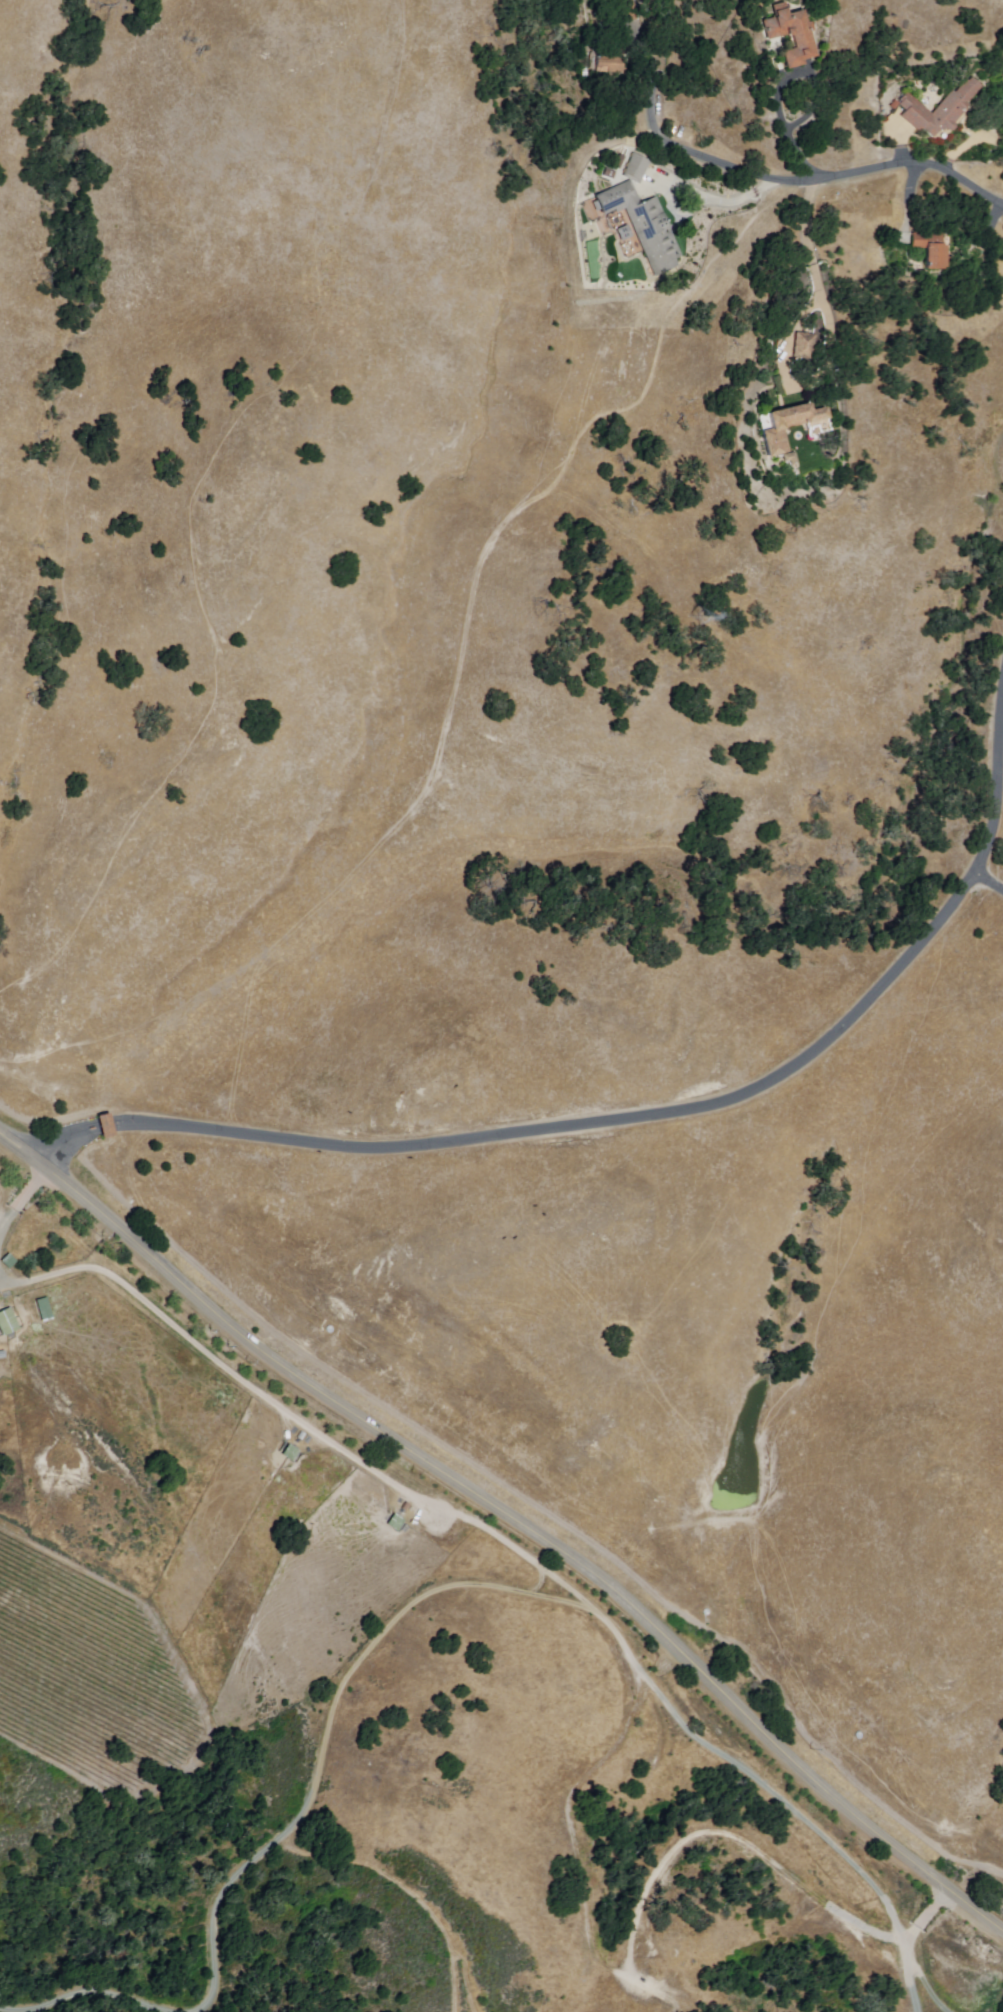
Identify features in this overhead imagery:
building: (634, 10)
building: (790, 34)
building: (614, 64)
building: (938, 110)
building: (637, 168)
road: (817, 178)
building: (642, 225)
road: (809, 241)
building: (932, 249)
building: (805, 346)
building: (785, 427)
building: (789, 459)
power tower: (702, 615)
road: (988, 879)
road: (635, 1118)
building: (105, 1126)
road: (18, 1203)
building: (43, 1310)
building: (9, 1322)
road: (305, 1424)
building: (290, 1453)
road: (513, 1519)
building: (395, 1523)
road: (403, 1620)
road: (914, 1944)
road: (912, 1971)

